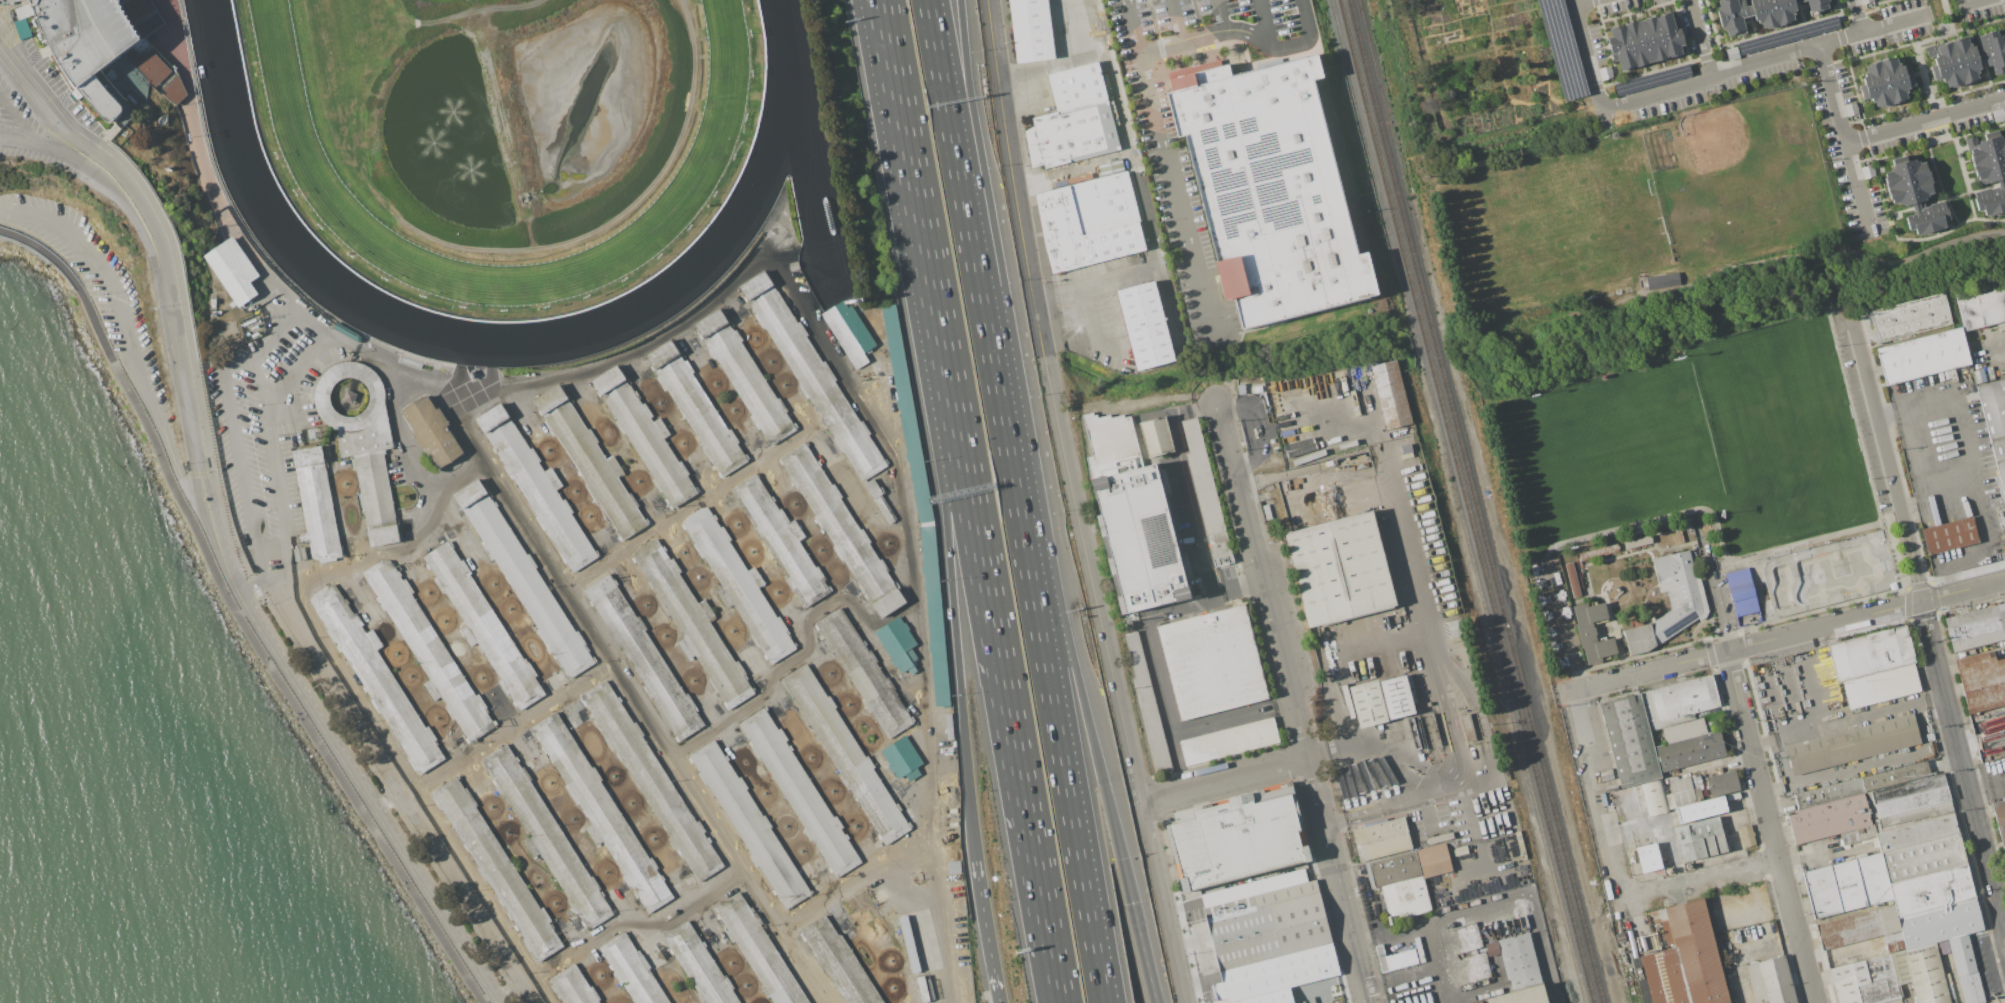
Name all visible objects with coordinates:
building: (8, 1)
building: (1798, 1)
building: (1867, 1)
road: (1585, 2)
road: (1975, 2)
building: (1818, 5)
building: (1784, 10)
road: (1948, 10)
road: (1195, 12)
building: (1764, 13)
road: (1220, 15)
building: (1733, 16)
road: (1860, 16)
road: (1153, 18)
road: (1305, 19)
road: (1176, 20)
road: (1264, 23)
road: (1897, 24)
road: (1133, 26)
building: (21, 29)
building: (1030, 30)
road: (1200, 30)
road: (1205, 33)
building: (1671, 35)
building: (1656, 38)
road: (1702, 38)
road: (1842, 39)
road: (1159, 41)
building: (1640, 42)
road: (1289, 45)
building: (1622, 47)
building: (1993, 51)
building: (108, 53)
building: (1733, 53)
road: (1588, 55)
road: (1758, 60)
building: (1968, 60)
road: (885, 65)
road: (892, 65)
building: (1947, 65)
road: (1041, 67)
railway: (1373, 68)
railway: (1365, 69)
railway: (1356, 70)
building: (1606, 73)
building: (1895, 78)
railway: (1350, 84)
building: (1873, 85)
road: (33, 94)
parking lot: (39, 98)
fountain: (453, 111)
building: (1999, 116)
building: (1073, 119)
road: (1926, 120)
road: (17, 121)
road: (1122, 123)
road: (955, 132)
road: (971, 132)
park: (1714, 140)
fountain: (434, 143)
building: (1988, 150)
fountain: (472, 169)
building: (1991, 170)
building: (1907, 171)
road: (1013, 178)
building: (1270, 188)
road: (1859, 189)
track: (290, 190)
building: (1912, 191)
road: (1175, 192)
building: (1991, 198)
road: (6, 209)
park: (1746, 209)
building: (1928, 217)
building: (1089, 221)
parking lot: (1183, 223)
park: (1554, 224)
road: (923, 236)
road: (1933, 237)
road: (1758, 264)
building: (232, 271)
road: (1130, 272)
road: (107, 278)
road: (1835, 278)
building: (1662, 281)
road: (75, 285)
parking lot: (97, 286)
road: (158, 289)
building: (1982, 307)
road: (174, 309)
building: (1909, 317)
road: (1839, 320)
road: (1659, 322)
road: (990, 328)
road: (1097, 328)
building: (1144, 328)
building: (848, 331)
road: (317, 336)
road: (1995, 350)
building: (1922, 356)
road: (223, 367)
road: (835, 371)
building: (812, 376)
building: (745, 377)
park: (1667, 377)
road: (393, 384)
building: (1391, 394)
building: (696, 409)
road: (1174, 413)
building: (1995, 423)
building: (432, 431)
park: (1784, 432)
building: (1156, 436)
building: (643, 438)
building: (363, 447)
road: (823, 449)
park: (1609, 456)
building: (590, 463)
road: (192, 475)
road: (1970, 475)
road: (181, 481)
building: (536, 488)
building: (1205, 493)
building: (879, 501)
building: (918, 502)
building: (316, 503)
building: (1131, 517)
road: (1649, 518)
parking lot: (1186, 519)
road: (1194, 525)
building: (842, 530)
building: (1678, 535)
building: (1949, 535)
building: (779, 539)
building: (1637, 541)
road: (1805, 541)
building: (1598, 551)
road: (220, 558)
building: (1338, 568)
railway: (1491, 570)
railway: (1483, 571)
park: (1831, 575)
building: (521, 577)
building: (1571, 578)
road: (1092, 579)
road: (1261, 580)
building: (738, 586)
building: (1741, 591)
road: (1963, 591)
road: (1717, 597)
building: (1684, 600)
road: (952, 602)
road: (1562, 622)
building: (1635, 622)
building: (691, 624)
road: (1926, 625)
building: (483, 626)
building: (1976, 626)
building: (1455, 627)
building: (1591, 632)
building: (897, 643)
road: (1067, 646)
road: (1748, 647)
road: (996, 648)
building: (429, 650)
road: (1384, 651)
road: (802, 653)
building: (643, 658)
road: (921, 659)
building: (1211, 661)
building: (1874, 666)
road: (615, 671)
building: (863, 673)
road: (1157, 673)
building: (375, 678)
road: (1820, 679)
building: (1981, 681)
road: (1736, 689)
road: (1567, 692)
road: (284, 694)
road: (1052, 696)
building: (1677, 701)
building: (1376, 702)
road: (1798, 703)
building: (1147, 704)
road: (1472, 707)
road: (1888, 709)
railway: (1513, 727)
building: (1466, 728)
road: (1401, 733)
building: (1628, 740)
building: (1228, 741)
building: (1851, 744)
building: (1687, 745)
road: (1176, 748)
building: (845, 754)
building: (901, 758)
building: (1894, 775)
building: (652, 781)
road: (1224, 781)
building: (1722, 782)
building: (1682, 791)
building: (799, 793)
road: (1597, 793)
building: (1828, 793)
building: (1653, 798)
road: (364, 800)
building: (1624, 805)
road: (1471, 806)
building: (1700, 809)
building: (601, 812)
building: (2000, 820)
building: (1831, 821)
building: (749, 825)
building: (1915, 828)
building: (547, 836)
building: (1746, 836)
building: (1237, 837)
building: (1698, 839)
building: (1459, 850)
building: (1652, 855)
building: (1398, 865)
road: (1779, 865)
building: (496, 868)
road: (1699, 877)
road: (856, 880)
road: (1337, 880)
building: (1845, 885)
road: (904, 891)
traffic signals: (1132, 903)
road: (1164, 903)
road: (1182, 906)
road: (1493, 906)
building: (1934, 906)
road: (983, 917)
road: (672, 920)
building: (1861, 930)
road: (2003, 930)
building: (1267, 938)
road: (1190, 942)
building: (909, 944)
building: (758, 950)
road: (1143, 953)
building: (1397, 960)
building: (1687, 960)
building: (837, 962)
building: (699, 965)
parking lot: (1986, 966)
building: (1962, 967)
building: (631, 971)
road: (1422, 971)
building: (1519, 972)
building: (1919, 973)
road: (1054, 978)
building: (1877, 980)
building: (1770, 981)
building: (1848, 981)
road: (1199, 982)
road: (1442, 985)
building: (571, 987)
road: (995, 988)

